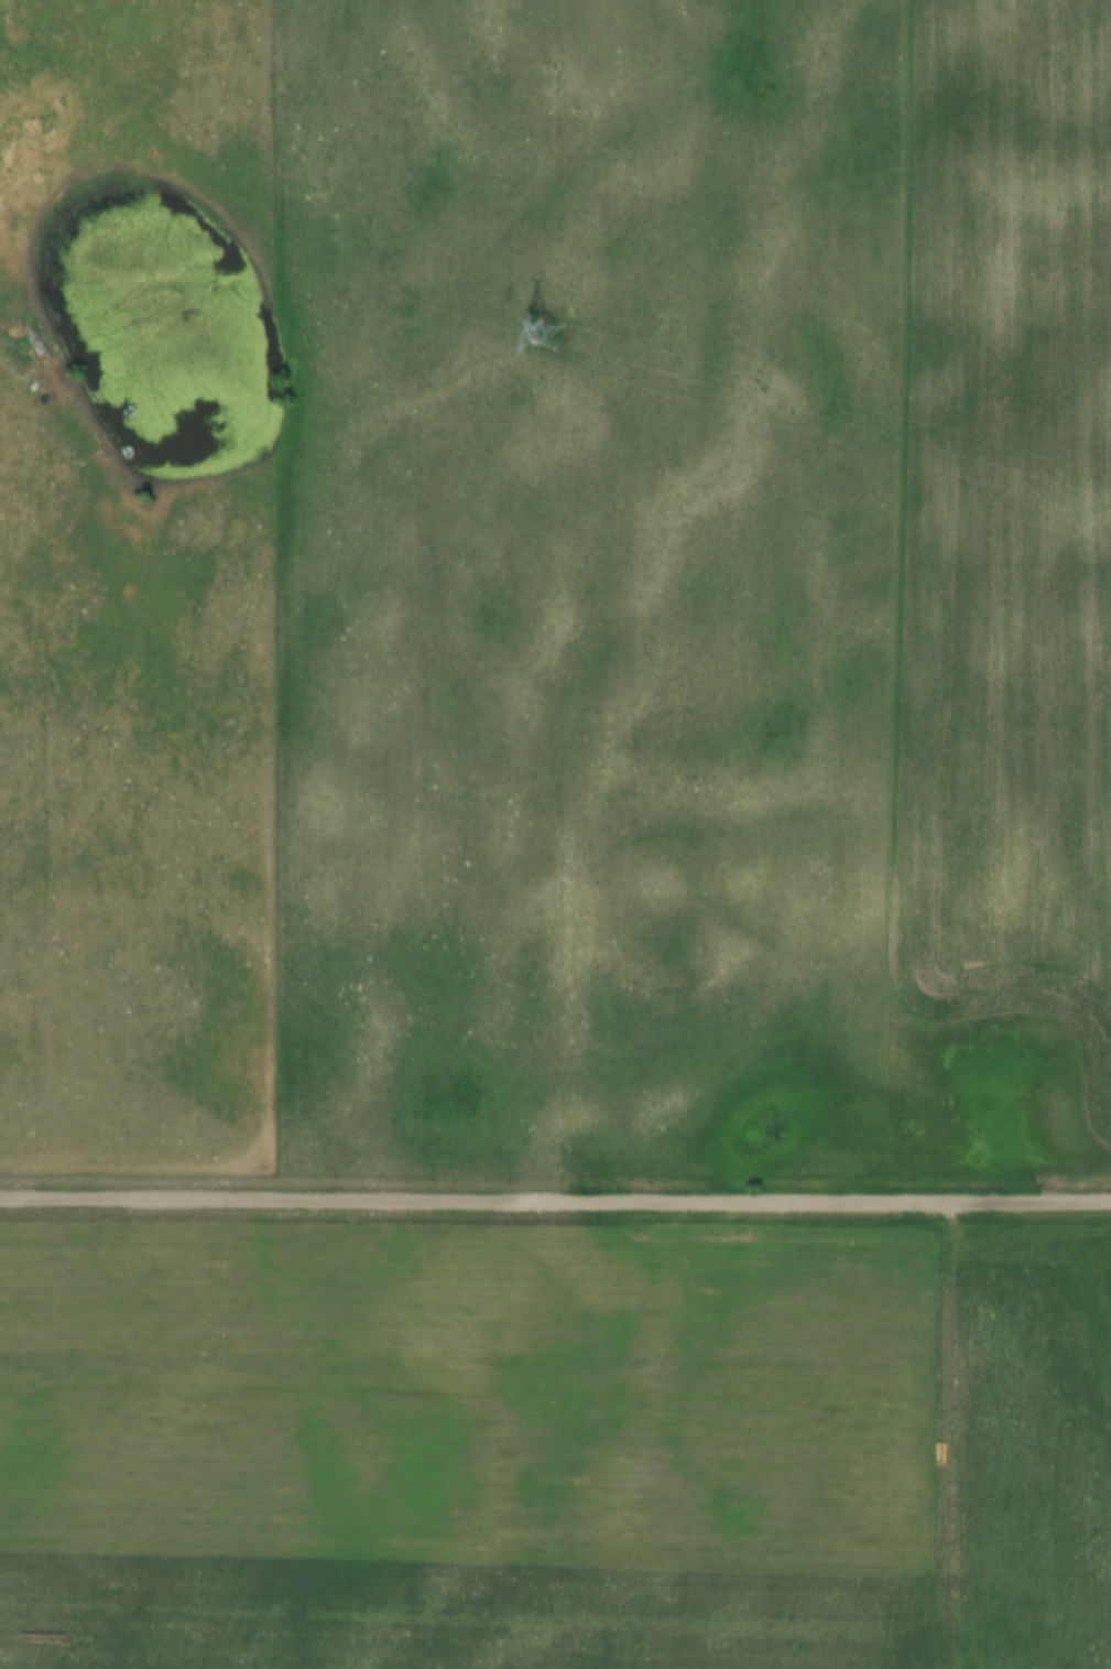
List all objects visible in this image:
power tower: (547, 334)
road: (555, 1201)

